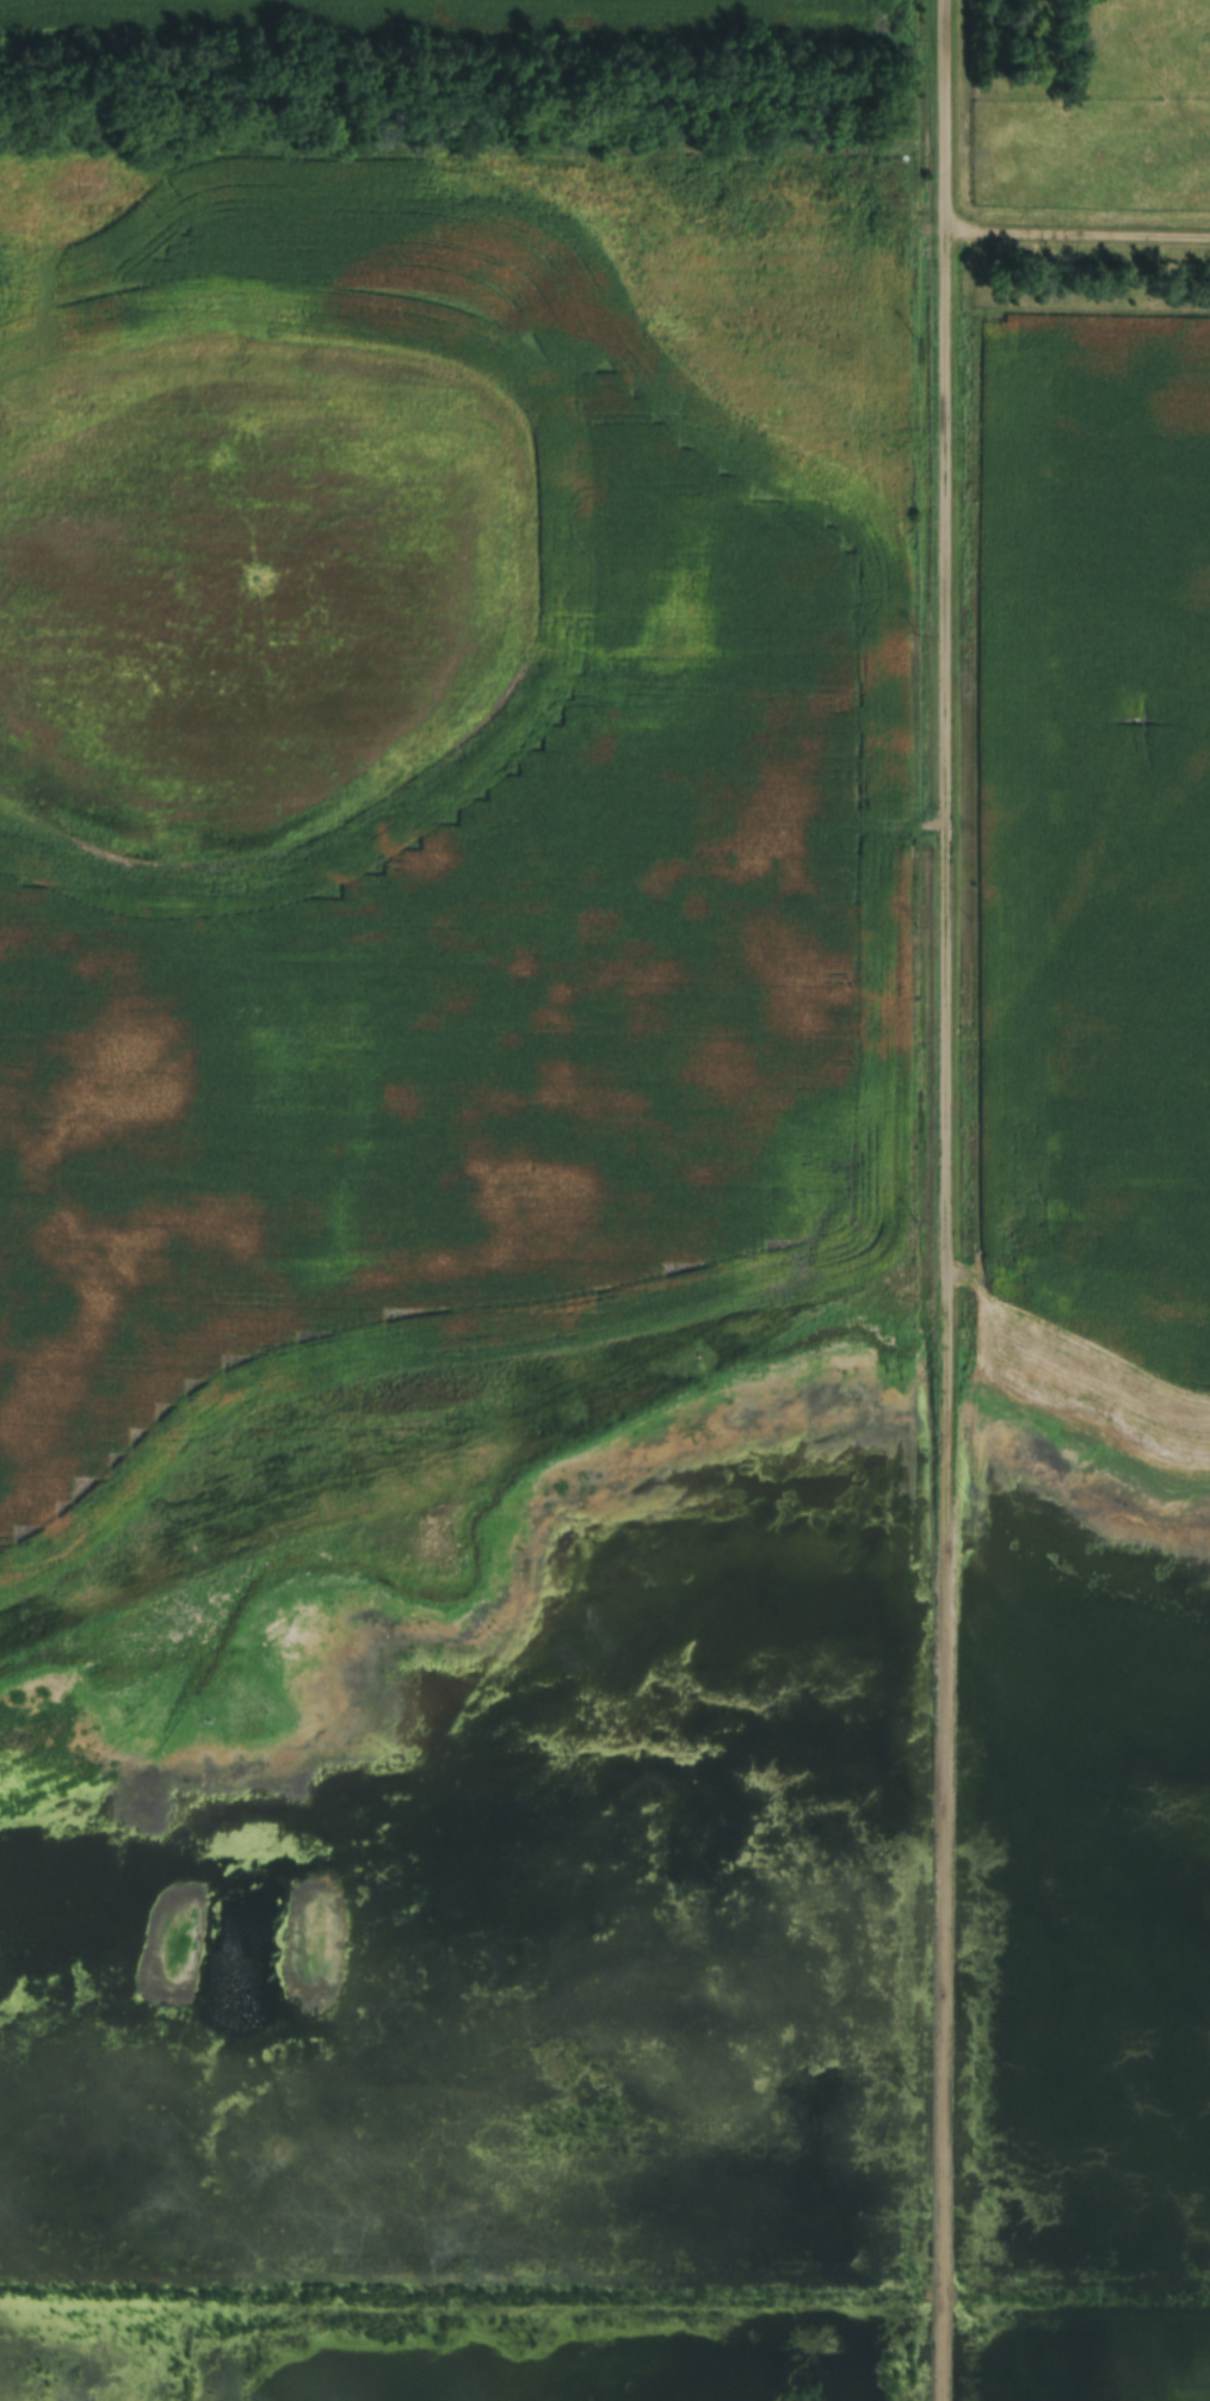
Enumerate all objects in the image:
road: (1079, 234)
road: (947, 1200)

